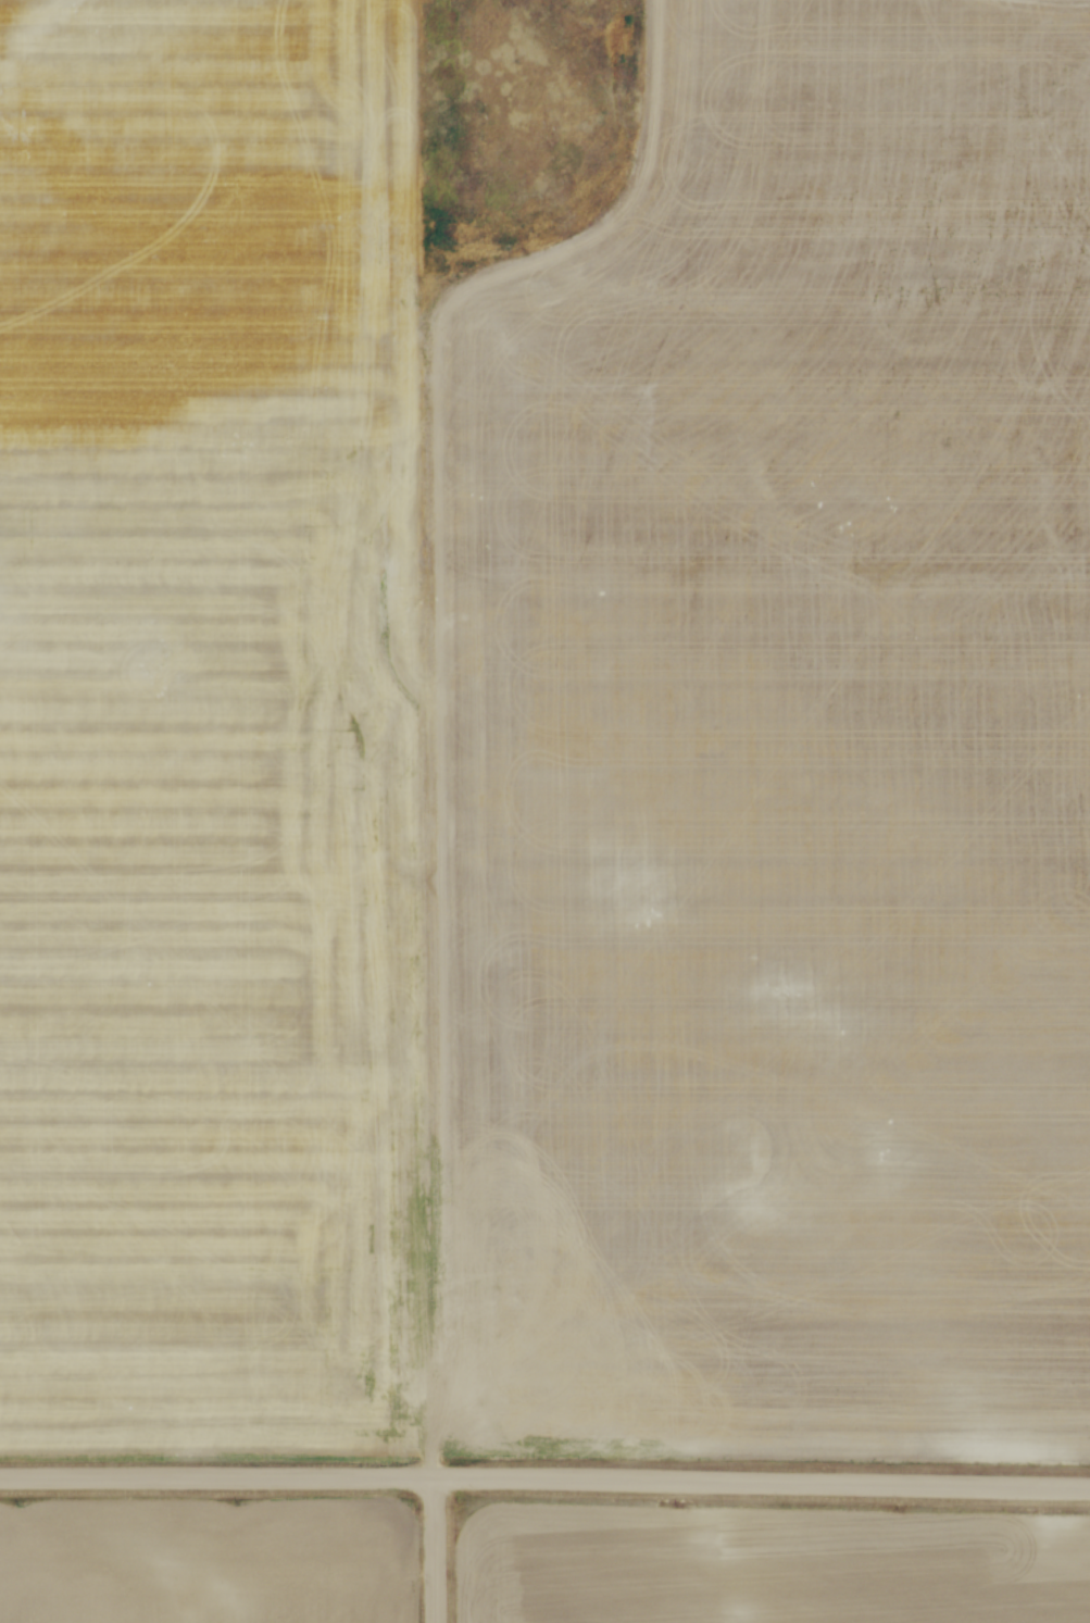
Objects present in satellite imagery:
crop: (546, 731)
road: (544, 1480)
road: (433, 1550)
crop: (203, 1561)
crop: (767, 1562)

